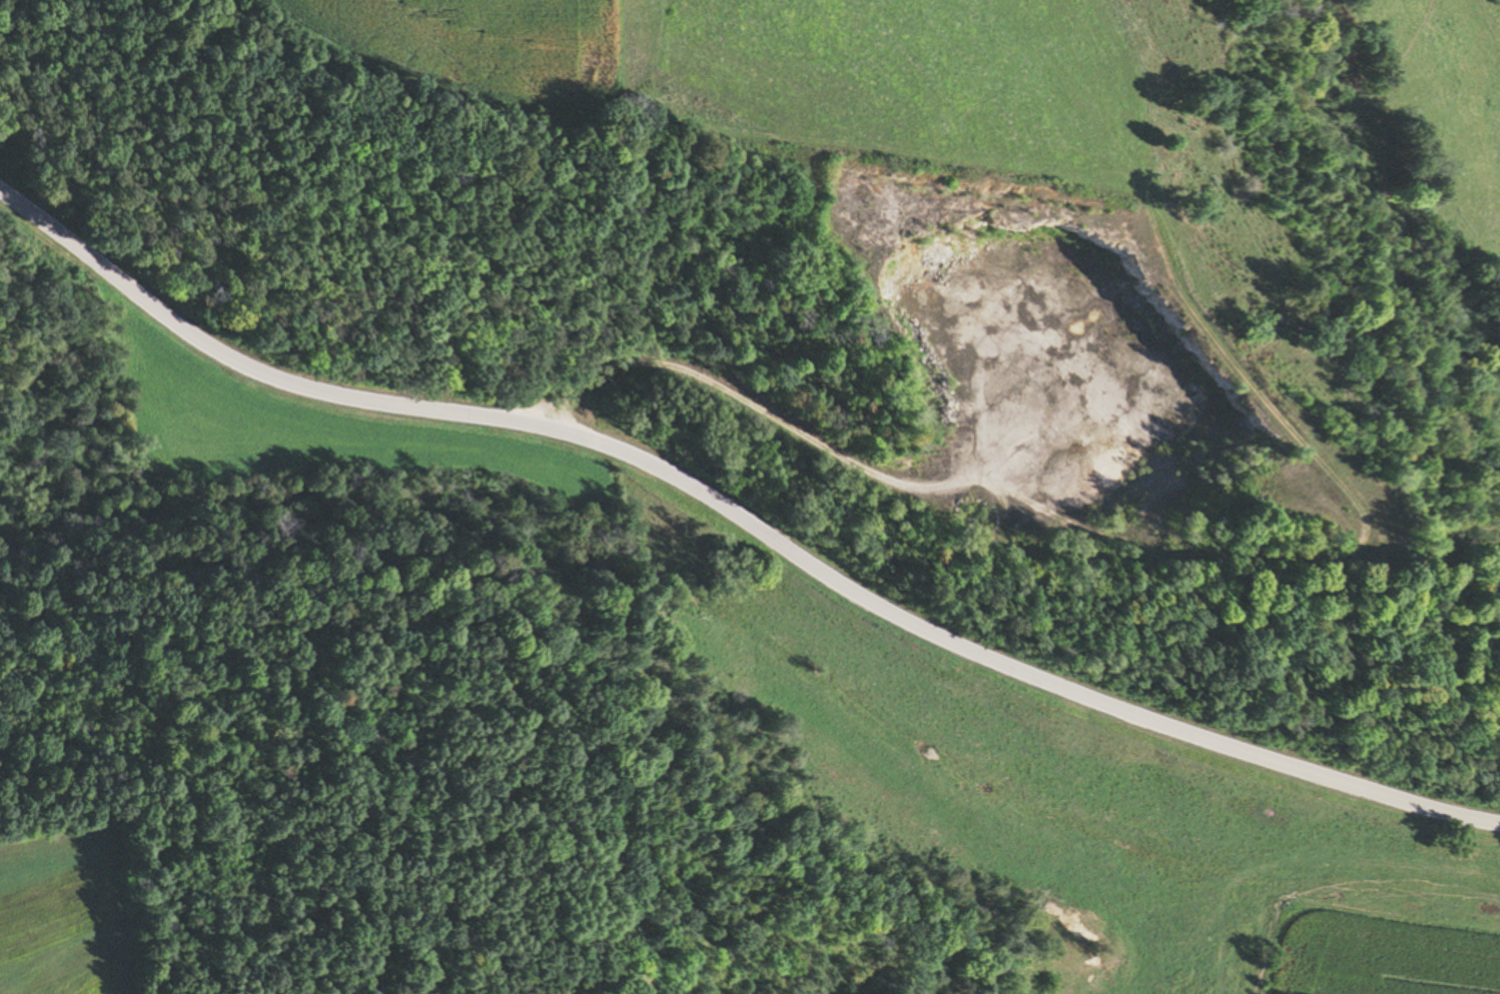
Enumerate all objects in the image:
crop: (490, 48)
crop: (915, 87)
crop: (1453, 119)
quarry: (1023, 336)
road: (745, 404)
crop: (311, 419)
road: (739, 516)
crop: (56, 917)
crop: (1377, 953)

